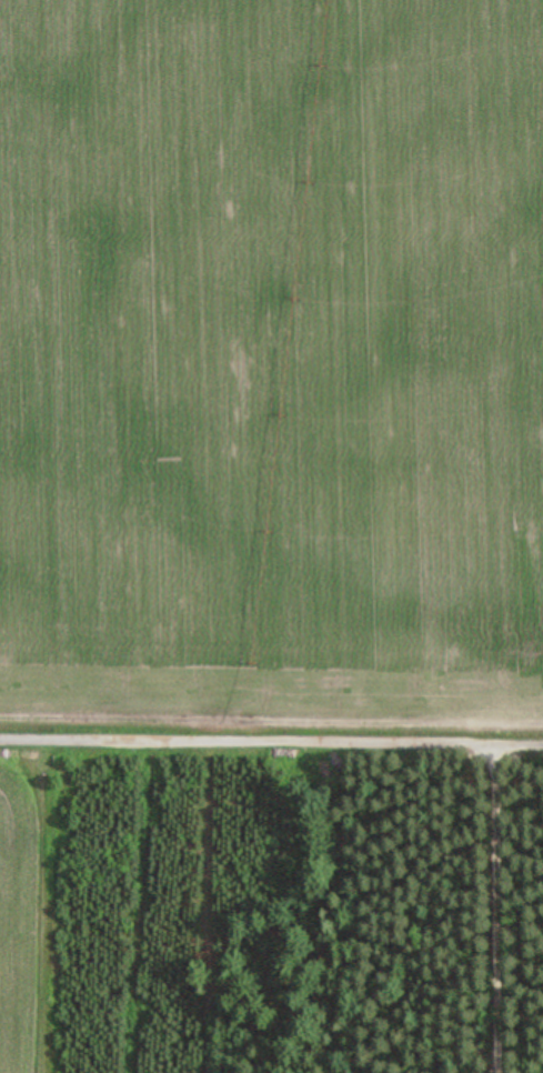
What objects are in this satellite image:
road: (204, 924)

